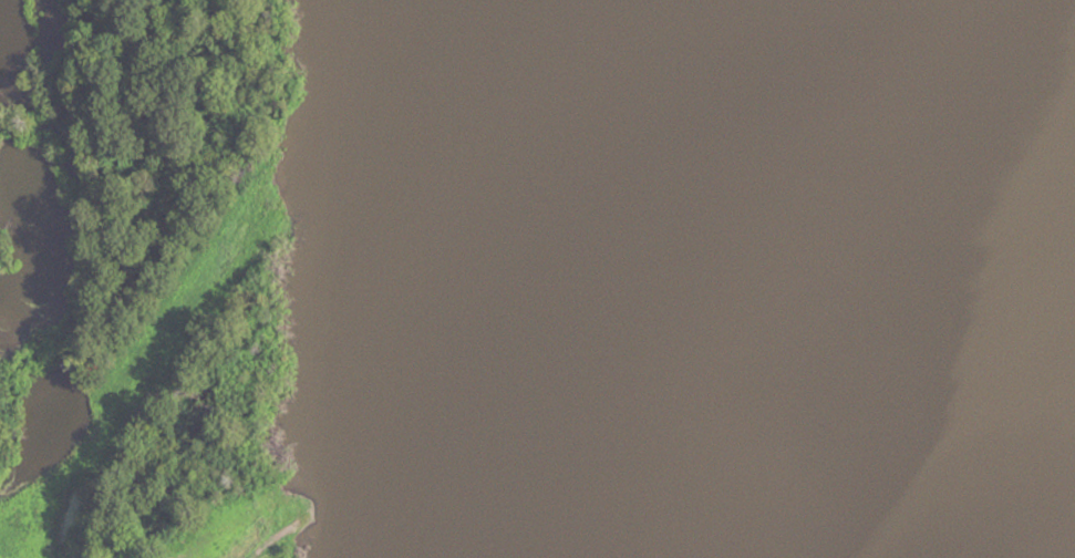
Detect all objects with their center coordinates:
road: (285, 531)

